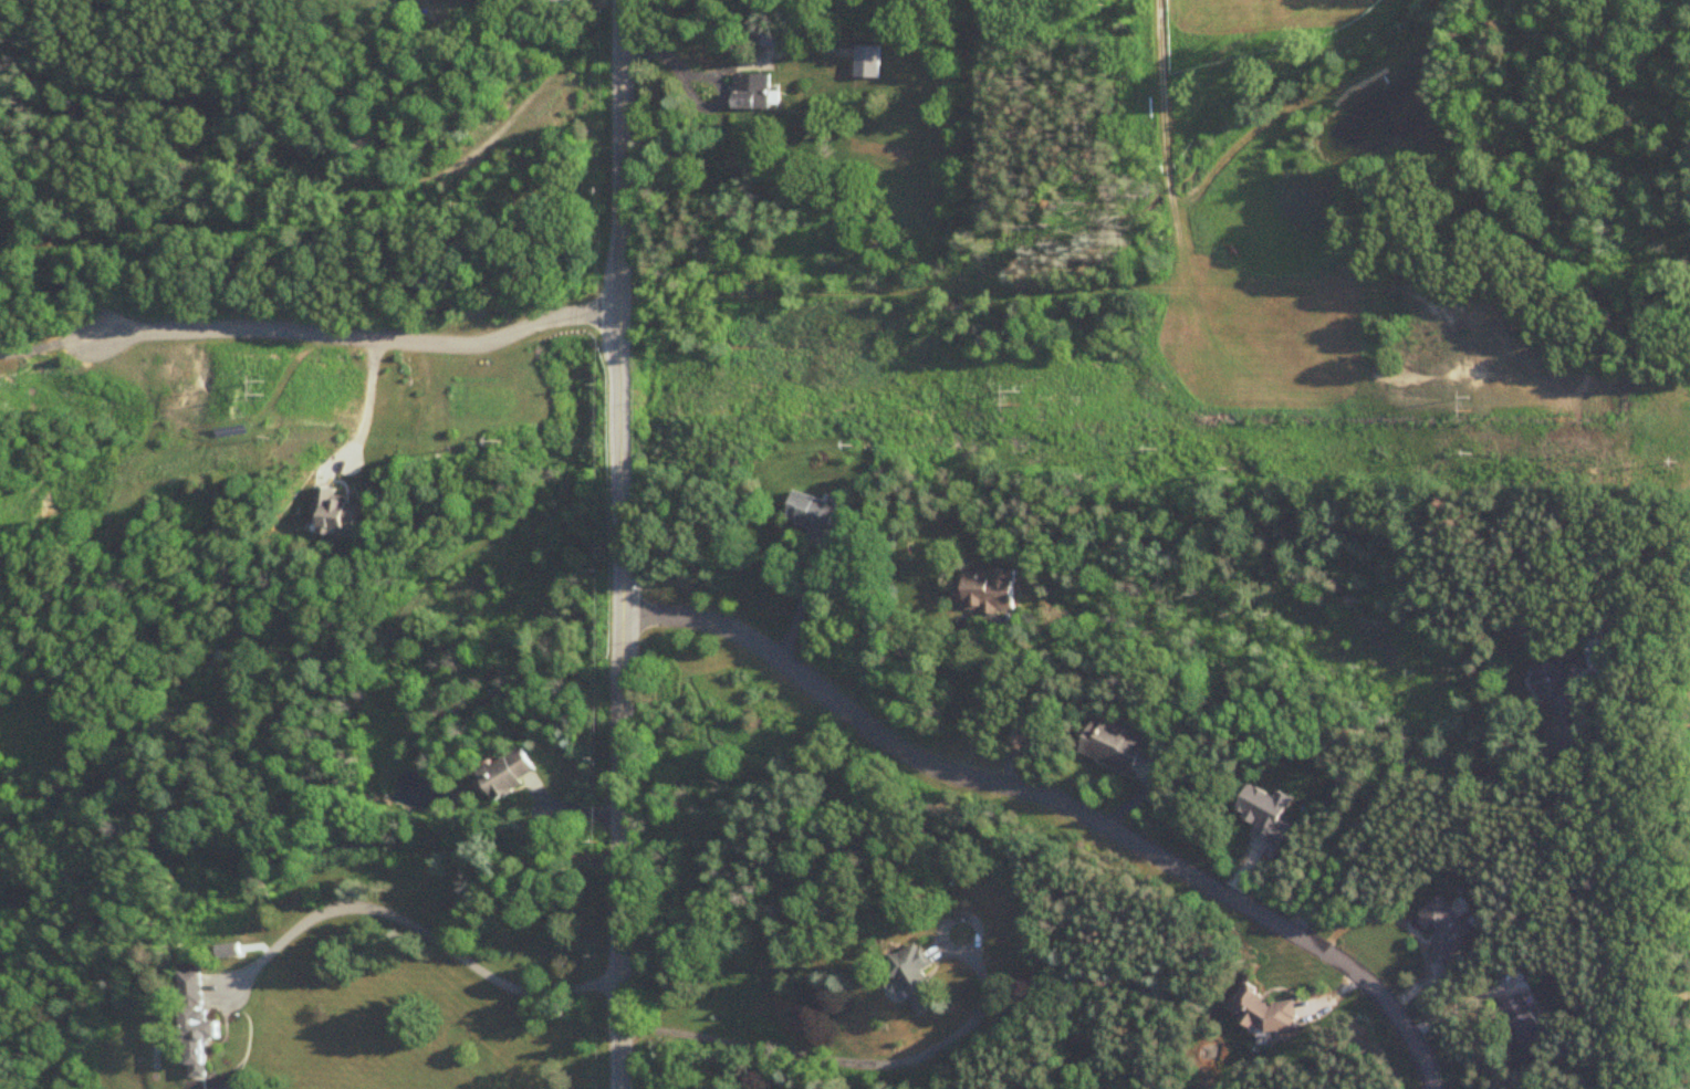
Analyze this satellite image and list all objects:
building: (444, 1)
building: (559, 1)
building: (764, 39)
road: (658, 48)
road: (773, 55)
building: (868, 64)
road: (718, 86)
building: (753, 94)
road: (336, 181)
road: (855, 294)
road: (358, 339)
road: (45, 342)
power tower: (267, 392)
road: (364, 396)
power tower: (1023, 400)
power tower: (1470, 400)
building: (338, 511)
building: (815, 517)
road: (620, 544)
building: (988, 591)
building: (1552, 687)
road: (1013, 704)
building: (1117, 746)
building: (510, 774)
road: (1404, 778)
road: (1055, 804)
building: (1446, 930)
road: (410, 931)
building: (915, 983)
building: (194, 988)
building: (1265, 1013)
building: (1524, 1023)
building: (200, 1039)
road: (846, 1062)

